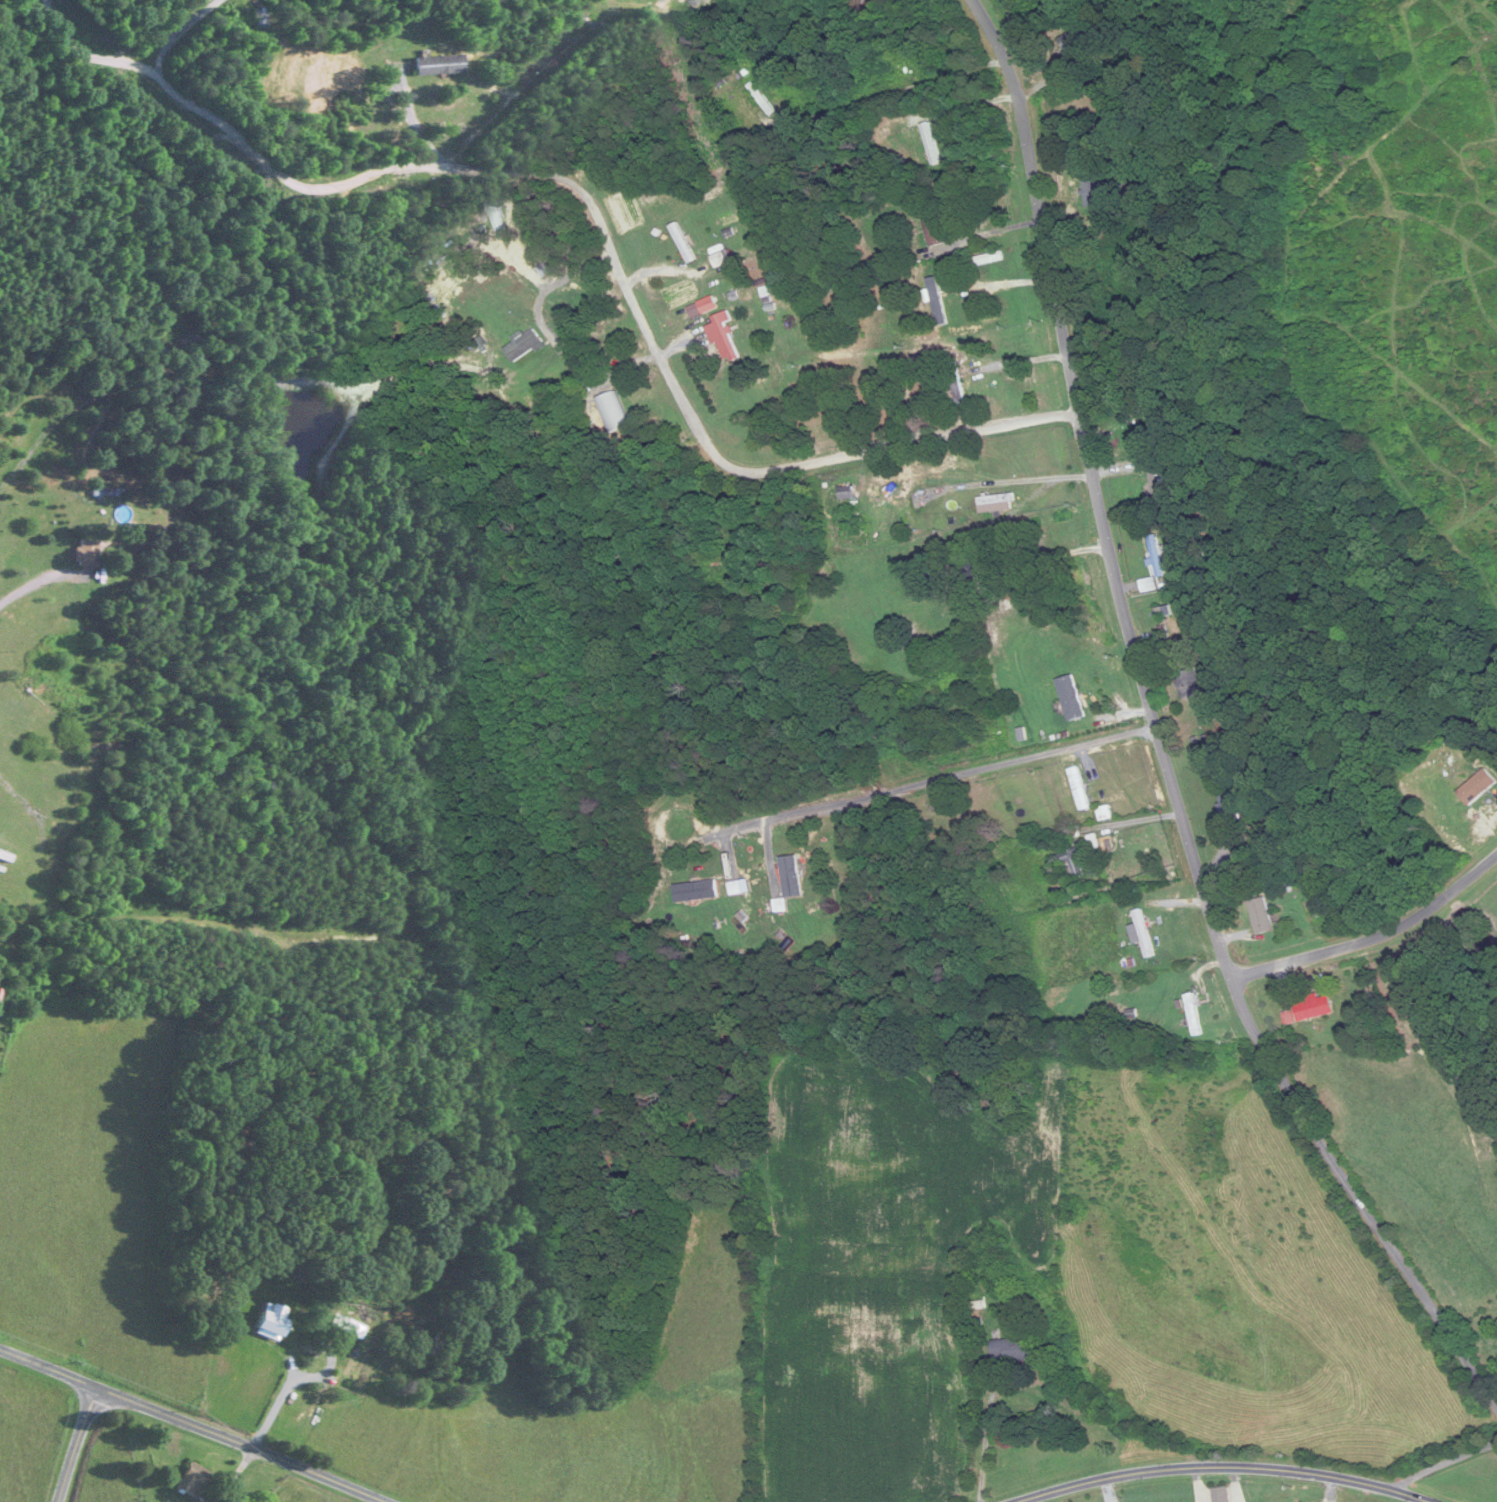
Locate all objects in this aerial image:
building: (697, 2)
building: (263, 16)
road: (179, 31)
building: (1078, 40)
building: (439, 65)
building: (760, 99)
building: (1092, 191)
road: (599, 220)
building: (933, 229)
road: (987, 233)
building: (682, 244)
building: (719, 261)
building: (933, 307)
building: (722, 340)
building: (524, 346)
road: (1020, 359)
building: (956, 383)
building: (613, 413)
building: (1165, 441)
building: (1153, 480)
building: (845, 494)
building: (909, 500)
building: (992, 500)
road: (1104, 537)
building: (85, 554)
road: (1050, 562)
building: (971, 565)
building: (1148, 586)
building: (1191, 687)
building: (1070, 698)
road: (938, 779)
building: (1478, 788)
building: (1228, 807)
building: (5, 857)
building: (1070, 862)
building: (791, 877)
building: (737, 889)
building: (696, 892)
building: (1261, 917)
building: (1140, 933)
road: (1372, 945)
building: (1313, 1009)
building: (1193, 1016)
road: (1387, 1230)
building: (1014, 1351)
road: (193, 1424)
road: (985, 1438)
road: (77, 1444)
road: (1445, 1462)
road: (1223, 1465)
building: (192, 1480)
building: (1221, 1495)

